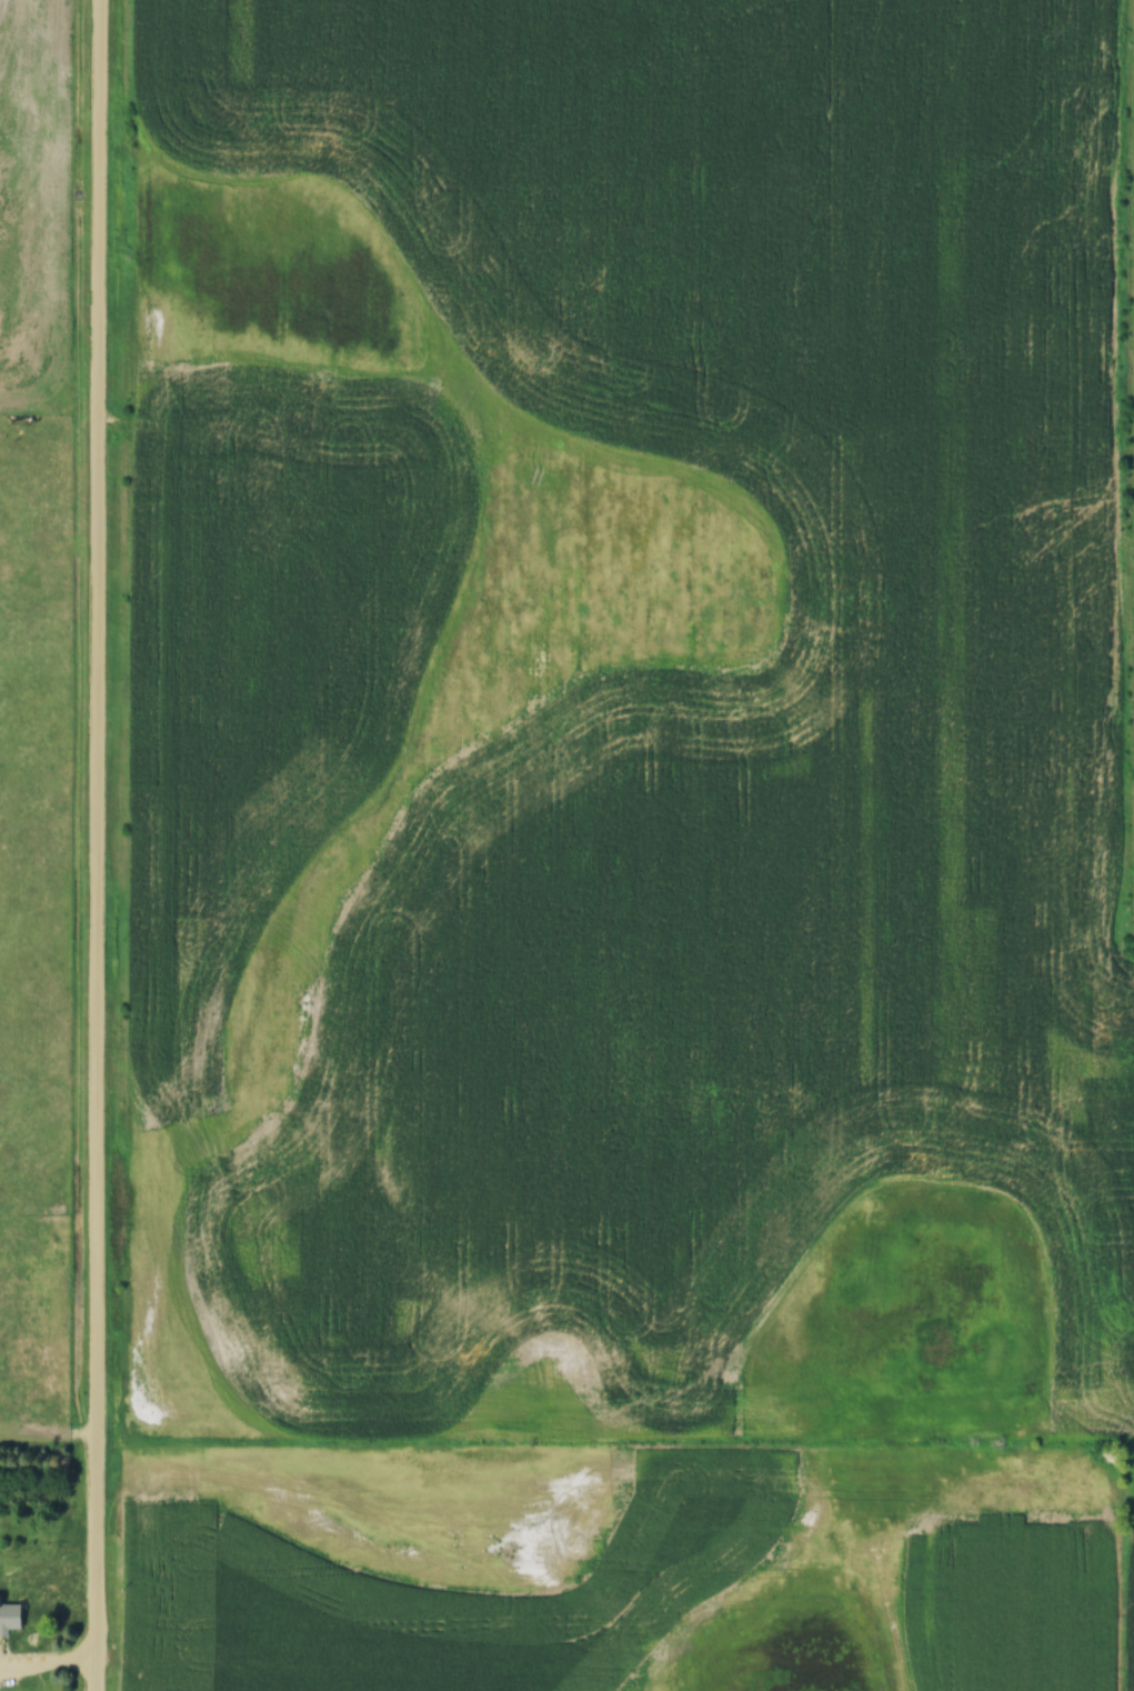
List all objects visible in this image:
road: (98, 845)
building: (11, 1617)
road: (47, 1662)

